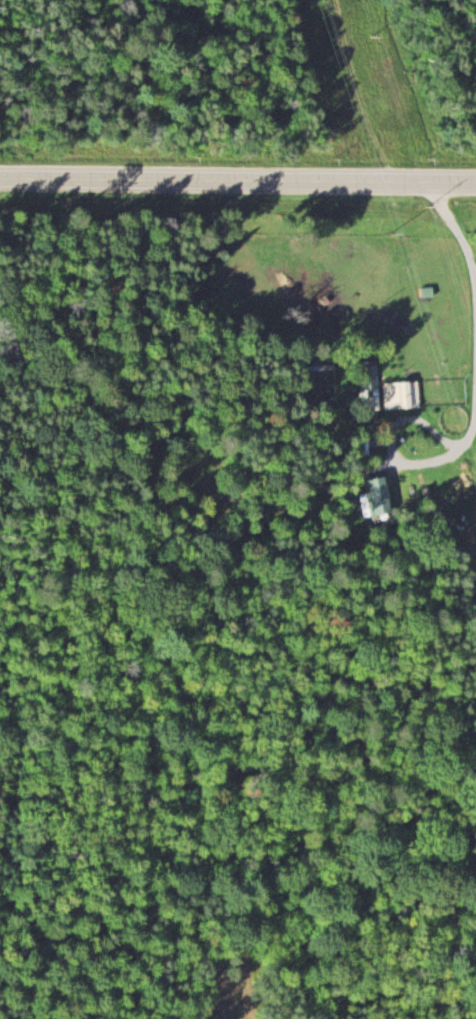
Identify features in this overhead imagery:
road: (238, 179)
building: (371, 385)
building: (402, 394)
building: (383, 495)

